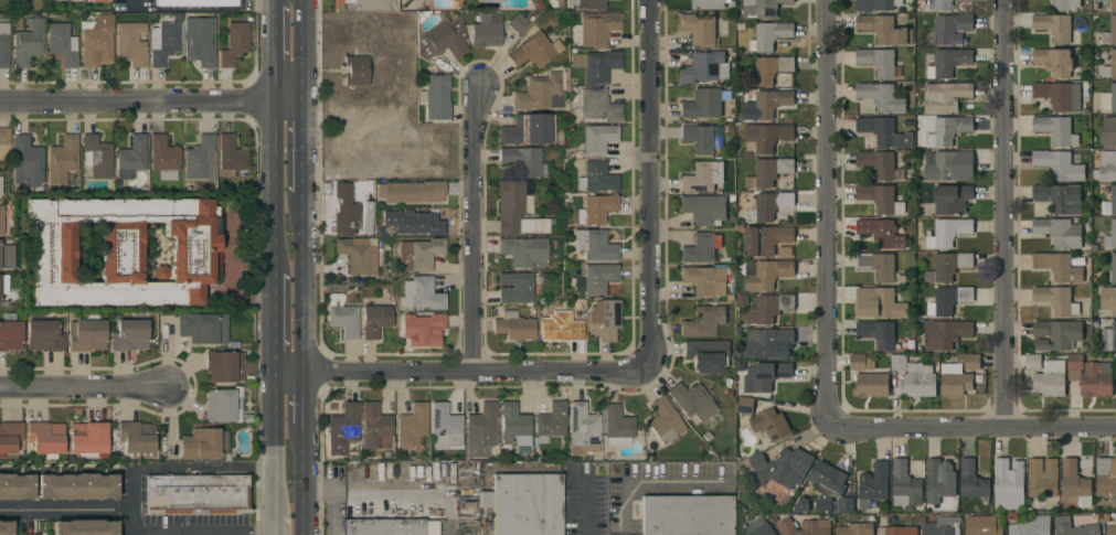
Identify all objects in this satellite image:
building: (95, 0)
building: (456, 1)
building: (490, 1)
road: (130, 2)
building: (195, 3)
building: (552, 3)
building: (587, 3)
building: (708, 3)
road: (273, 4)
building: (874, 4)
building: (935, 4)
building: (1065, 4)
building: (1109, 4)
building: (363, 6)
building: (538, 6)
building: (761, 8)
building: (530, 18)
building: (518, 23)
building: (1054, 26)
building: (698, 28)
building: (950, 28)
building: (594, 29)
building: (884, 30)
building: (487, 31)
building: (1109, 32)
building: (768, 35)
building: (443, 40)
building: (96, 41)
building: (199, 41)
building: (28, 43)
building: (63, 43)
building: (131, 43)
building: (163, 43)
building: (233, 44)
building: (3, 45)
road: (301, 50)
building: (533, 50)
road: (272, 55)
building: (878, 61)
building: (1054, 61)
building: (948, 62)
building: (596, 65)
building: (1109, 66)
building: (704, 67)
building: (767, 69)
building: (355, 71)
building: (540, 94)
building: (945, 96)
building: (1059, 96)
building: (437, 97)
building: (882, 97)
building: (1108, 99)
road: (150, 100)
building: (770, 103)
building: (705, 104)
building: (598, 105)
building: (908, 125)
building: (539, 129)
building: (947, 130)
building: (1056, 130)
building: (883, 131)
building: (1108, 131)
building: (510, 132)
building: (767, 136)
building: (4, 138)
building: (598, 138)
building: (702, 138)
building: (1095, 141)
road: (301, 148)
building: (231, 154)
building: (96, 157)
building: (131, 158)
building: (163, 158)
building: (201, 159)
building: (62, 161)
building: (522, 161)
building: (26, 162)
building: (878, 163)
building: (1059, 164)
building: (948, 165)
building: (1107, 165)
building: (768, 172)
building: (899, 174)
building: (702, 176)
building: (597, 178)
building: (0, 185)
road: (650, 186)
road: (272, 191)
building: (412, 192)
building: (1060, 197)
building: (881, 199)
building: (952, 199)
building: (1109, 203)
building: (768, 206)
building: (518, 208)
building: (596, 208)
building: (704, 208)
building: (344, 210)
road: (828, 214)
road: (1005, 216)
building: (1, 220)
building: (414, 222)
building: (1059, 232)
road: (472, 233)
building: (881, 233)
building: (947, 233)
building: (1110, 236)
building: (765, 239)
building: (594, 245)
building: (699, 248)
building: (783, 249)
building: (123, 250)
building: (523, 250)
road: (230, 253)
building: (418, 254)
building: (357, 255)
building: (7, 257)
building: (879, 266)
building: (948, 266)
building: (1057, 266)
building: (1113, 268)
building: (765, 274)
building: (595, 278)
building: (706, 279)
building: (3, 283)
road: (301, 286)
building: (518, 287)
building: (421, 293)
building: (1056, 299)
building: (1107, 299)
building: (741, 300)
building: (948, 300)
building: (878, 303)
building: (769, 308)
building: (342, 317)
building: (605, 318)
building: (374, 320)
building: (703, 321)
building: (513, 327)
building: (202, 328)
building: (561, 328)
road: (270, 329)
building: (425, 329)
building: (10, 333)
building: (130, 333)
building: (878, 333)
building: (945, 333)
building: (86, 334)
building: (1056, 334)
building: (43, 336)
building: (1108, 338)
building: (765, 342)
building: (708, 355)
building: (969, 361)
building: (861, 362)
building: (899, 362)
building: (1033, 362)
building: (226, 367)
road: (460, 376)
building: (765, 376)
building: (1091, 376)
building: (1051, 378)
building: (955, 379)
building: (918, 381)
building: (727, 383)
building: (871, 385)
road: (84, 388)
building: (729, 394)
building: (692, 402)
road: (302, 403)
building: (745, 405)
building: (221, 406)
road: (168, 420)
building: (665, 421)
building: (551, 422)
building: (412, 425)
building: (446, 425)
building: (514, 425)
building: (374, 426)
building: (617, 426)
building: (769, 426)
building: (480, 430)
building: (583, 430)
building: (343, 431)
road: (976, 431)
building: (706, 436)
building: (10, 437)
building: (45, 439)
building: (87, 439)
building: (137, 439)
building: (200, 445)
road: (269, 447)
building: (701, 447)
building: (708, 454)
building: (782, 467)
road: (166, 470)
building: (1106, 477)
building: (827, 478)
building: (1043, 479)
road: (302, 481)
building: (465, 482)
building: (972, 482)
building: (1075, 482)
building: (873, 484)
building: (1008, 484)
building: (905, 485)
building: (940, 485)
building: (15, 486)
building: (76, 486)
building: (196, 494)
building: (485, 500)
building: (527, 504)
building: (468, 505)
building: (801, 505)
building: (846, 505)
road: (584, 506)
building: (825, 506)
road: (56, 511)
building: (685, 515)
building: (774, 518)
building: (981, 525)
road: (269, 526)
building: (943, 526)
building: (1031, 526)
building: (1062, 526)
building: (6, 527)
building: (84, 527)
building: (390, 527)
building: (804, 527)
building: (758, 528)
building: (855, 528)
building: (1110, 529)
building: (897, 531)
road: (255, 534)

